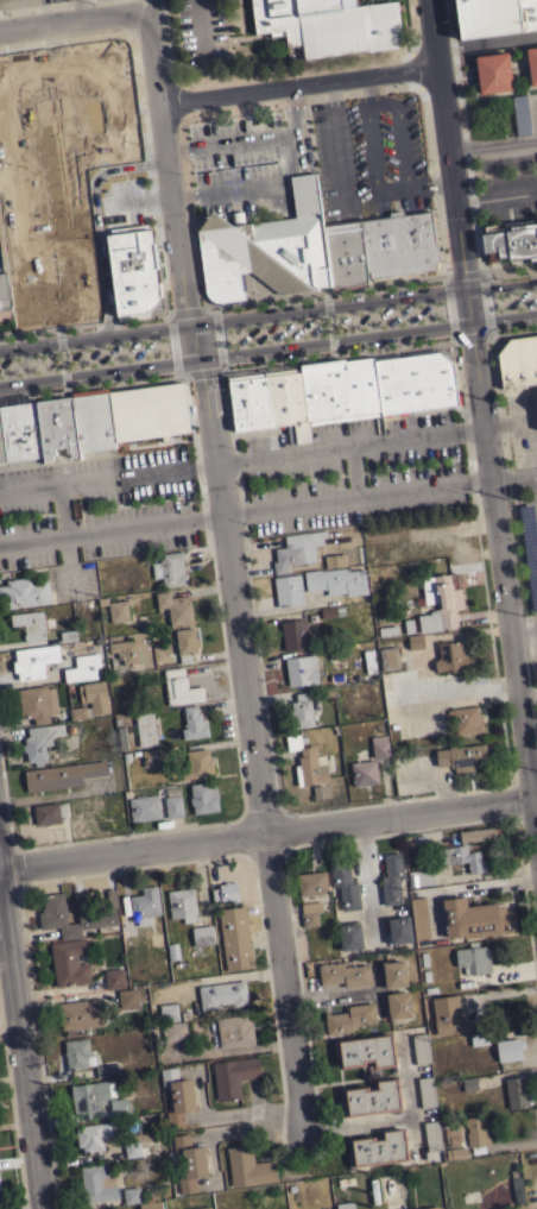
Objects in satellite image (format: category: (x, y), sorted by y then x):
building: (17, 2)
road: (141, 8)
building: (495, 15)
road: (69, 19)
building: (329, 25)
road: (200, 27)
parking lot: (197, 31)
road: (485, 42)
road: (94, 63)
building: (532, 63)
building: (494, 73)
road: (296, 82)
road: (365, 87)
road: (140, 111)
building: (520, 114)
parking lot: (525, 114)
road: (230, 141)
road: (333, 141)
road: (17, 144)
road: (492, 144)
parking lot: (309, 160)
parking lot: (18, 166)
road: (11, 180)
road: (279, 183)
road: (405, 185)
parking lot: (507, 190)
road: (138, 197)
building: (536, 200)
parking lot: (121, 202)
building: (63, 218)
road: (95, 219)
building: (512, 240)
building: (400, 244)
building: (266, 248)
building: (347, 254)
road: (508, 269)
building: (134, 271)
road: (462, 275)
road: (328, 292)
building: (5, 297)
road: (485, 301)
road: (448, 306)
road: (204, 311)
road: (182, 313)
road: (268, 314)
parking lot: (334, 321)
road: (328, 322)
road: (84, 327)
road: (513, 327)
road: (470, 333)
road: (219, 338)
road: (172, 341)
road: (268, 347)
road: (337, 351)
parking lot: (84, 354)
road: (62, 358)
building: (518, 363)
road: (200, 369)
building: (415, 380)
road: (88, 382)
building: (340, 390)
building: (248, 402)
building: (286, 402)
building: (149, 413)
road: (482, 414)
building: (94, 422)
building: (57, 427)
building: (20, 434)
building: (1, 453)
road: (242, 459)
parking lot: (353, 470)
road: (535, 486)
road: (268, 504)
parking lot: (97, 505)
building: (297, 549)
parking lot: (529, 549)
building: (525, 554)
building: (335, 560)
building: (170, 568)
road: (229, 571)
building: (336, 580)
building: (288, 590)
building: (25, 592)
building: (442, 606)
building: (176, 607)
building: (115, 609)
building: (331, 611)
building: (30, 624)
building: (68, 635)
building: (295, 635)
building: (416, 642)
building: (187, 643)
building: (126, 651)
building: (453, 656)
building: (388, 657)
building: (33, 660)
building: (369, 661)
building: (81, 668)
building: (302, 669)
building: (181, 687)
building: (95, 695)
road: (529, 700)
building: (37, 703)
building: (302, 710)
building: (77, 712)
building: (467, 719)
building: (194, 723)
building: (145, 729)
building: (121, 737)
building: (39, 742)
building: (379, 745)
building: (153, 756)
building: (462, 756)
building: (197, 763)
building: (309, 767)
building: (364, 773)
building: (62, 775)
building: (203, 796)
building: (172, 806)
building: (144, 807)
building: (49, 813)
road: (268, 833)
building: (476, 835)
building: (461, 857)
building: (392, 877)
building: (421, 877)
building: (312, 883)
building: (345, 884)
building: (226, 893)
building: (182, 903)
building: (140, 911)
building: (97, 913)
building: (310, 913)
building: (419, 918)
building: (475, 919)
building: (399, 930)
building: (203, 936)
building: (350, 936)
building: (156, 938)
building: (235, 938)
building: (173, 951)
building: (473, 958)
building: (69, 962)
building: (343, 974)
building: (394, 974)
road: (228, 976)
building: (114, 978)
building: (222, 994)
building: (128, 999)
building: (398, 1005)
building: (169, 1012)
building: (80, 1014)
building: (448, 1014)
building: (349, 1018)
building: (175, 1031)
building: (235, 1031)
building: (480, 1039)
road: (23, 1043)
building: (421, 1049)
building: (510, 1049)
building: (366, 1051)
building: (78, 1053)
building: (108, 1070)
building: (233, 1076)
building: (469, 1083)
building: (427, 1091)
building: (517, 1092)
building: (90, 1095)
building: (178, 1095)
building: (372, 1098)
building: (119, 1107)
road: (239, 1109)
road: (393, 1116)
road: (236, 1129)
building: (476, 1133)
building: (93, 1135)
building: (432, 1135)
building: (453, 1136)
building: (133, 1148)
building: (379, 1148)
building: (456, 1153)
building: (190, 1161)
building: (248, 1166)
building: (97, 1183)
building: (0, 1184)
building: (517, 1190)
building: (132, 1195)
building: (151, 1204)
building: (346, 1204)
building: (394, 1204)
road: (37, 1208)
building: (202, 1208)
building: (431, 1208)

